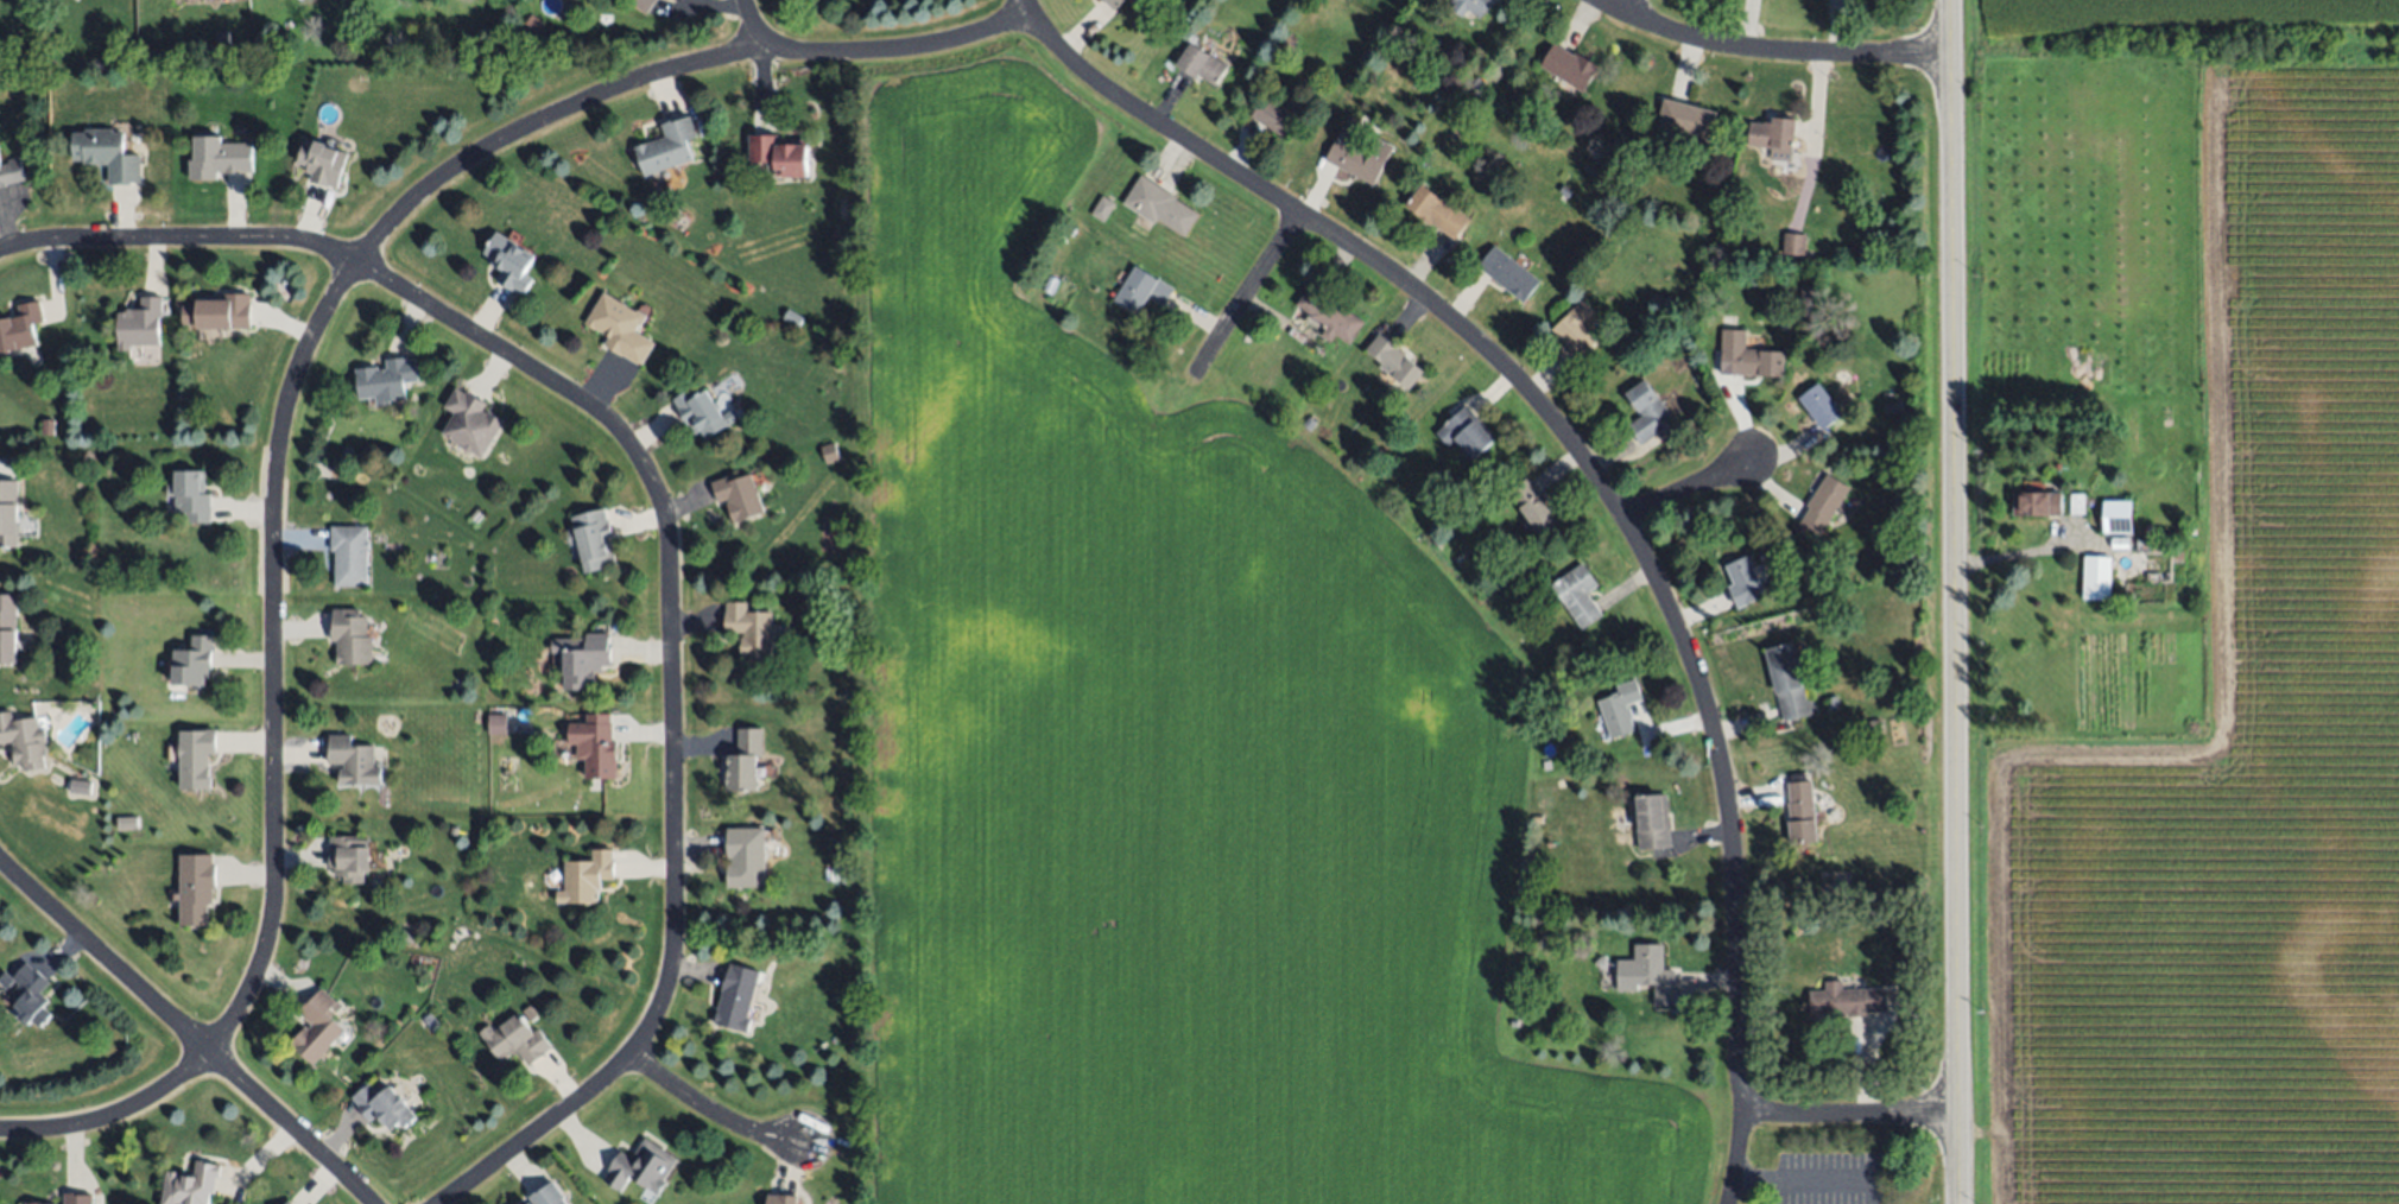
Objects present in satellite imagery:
building: (1114, 2)
road: (1626, 4)
building: (644, 5)
building: (1470, 6)
building: (605, 18)
building: (221, 38)
road: (1773, 51)
road: (878, 52)
building: (1201, 64)
building: (1569, 66)
building: (1479, 83)
building: (1279, 114)
building: (1685, 118)
building: (1461, 127)
building: (1344, 133)
building: (1773, 137)
building: (667, 145)
building: (780, 153)
building: (106, 154)
building: (219, 158)
building: (1359, 158)
building: (323, 163)
building: (11, 171)
building: (1564, 190)
building: (1160, 204)
building: (1102, 208)
building: (1436, 211)
building: (1793, 242)
building: (511, 262)
building: (1507, 273)
building: (1141, 290)
building: (1806, 294)
road: (1247, 296)
building: (222, 309)
building: (1329, 312)
building: (792, 317)
building: (139, 324)
building: (19, 327)
building: (621, 327)
building: (1576, 329)
building: (1748, 356)
building: (1394, 361)
building: (386, 380)
building: (1819, 406)
building: (1891, 406)
building: (702, 413)
building: (1646, 413)
building: (470, 422)
building: (48, 427)
building: (1464, 431)
building: (830, 452)
road: (1596, 479)
road: (1689, 487)
building: (190, 496)
building: (739, 496)
building: (1823, 502)
building: (2076, 502)
building: (2037, 503)
building: (1532, 506)
building: (8, 514)
building: (2118, 518)
road: (667, 526)
building: (2184, 528)
road: (271, 533)
building: (594, 539)
building: (2120, 543)
building: (2153, 545)
road: (2026, 550)
building: (348, 555)
building: (2097, 577)
building: (1743, 582)
building: (1578, 595)
road: (1955, 602)
building: (7, 628)
building: (751, 629)
crop: (2304, 630)
building: (350, 636)
building: (583, 659)
building: (191, 660)
building: (1786, 682)
building: (1833, 702)
building: (1619, 709)
building: (1874, 722)
building: (498, 723)
building: (23, 739)
building: (596, 744)
building: (196, 758)
building: (353, 761)
building: (745, 761)
crop: (1169, 766)
building: (80, 787)
building: (1800, 813)
building: (1654, 820)
building: (747, 856)
building: (349, 857)
building: (587, 877)
building: (196, 888)
building: (1878, 932)
building: (1651, 972)
building: (27, 993)
building: (736, 997)
building: (1844, 1001)
building: (431, 1021)
building: (316, 1028)
road: (185, 1031)
building: (515, 1040)
building: (382, 1105)
road: (709, 1110)
road: (1850, 1115)
building: (643, 1167)
road: (1811, 1179)
building: (190, 1184)
road: (1777, 1190)
building: (547, 1195)
building: (77, 1198)
building: (781, 1198)
building: (45, 1203)
building: (286, 1203)

